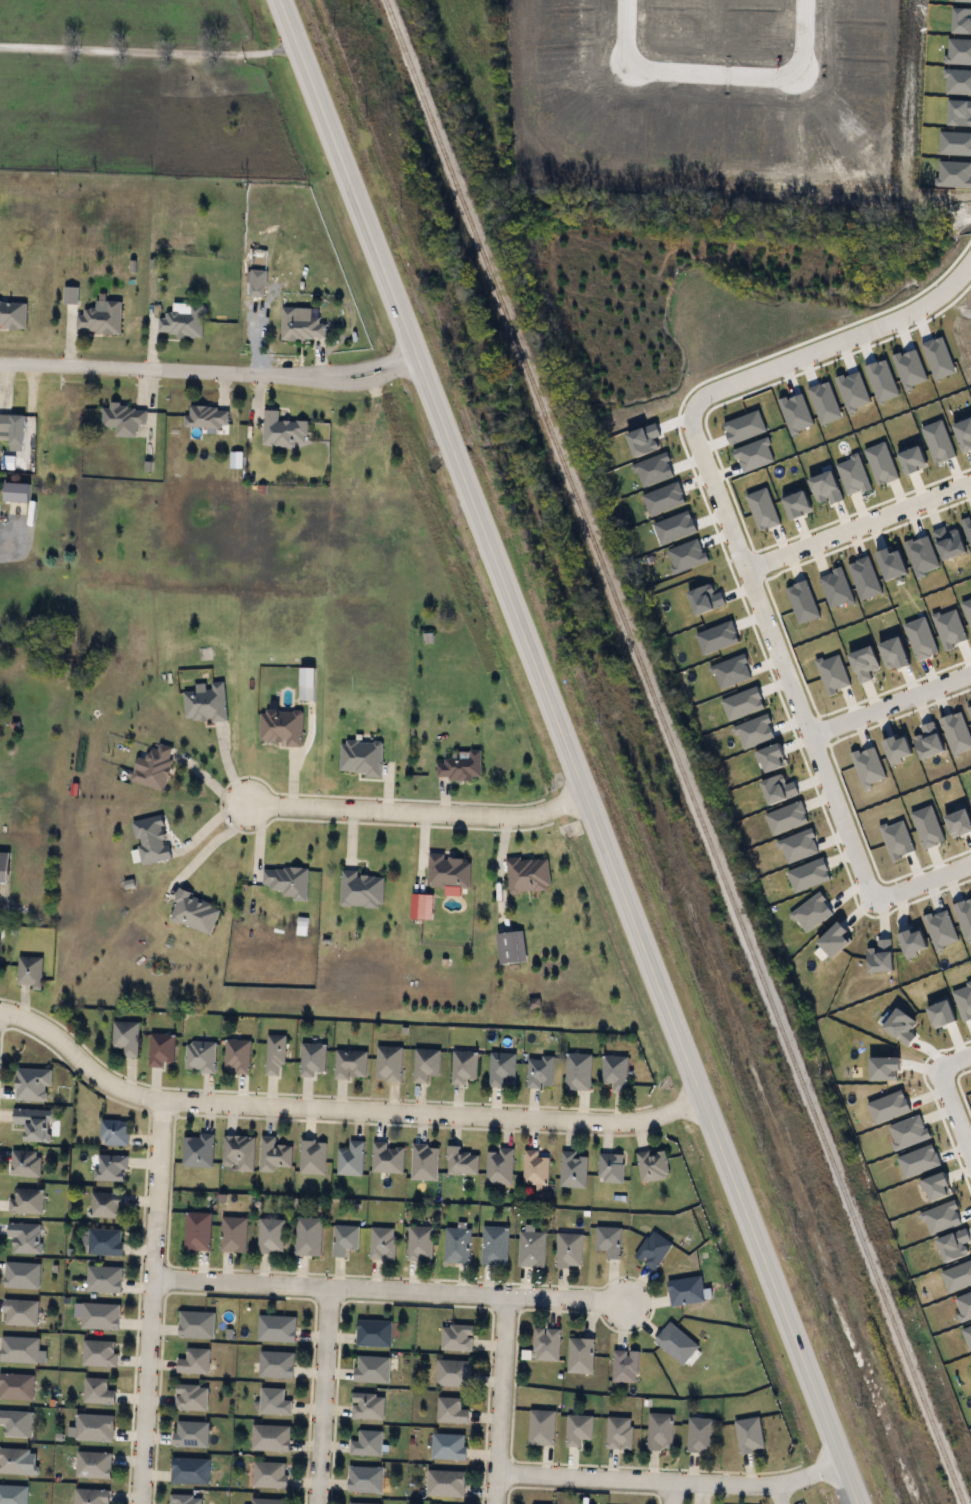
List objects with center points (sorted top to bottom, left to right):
road: (625, 34)
road: (803, 41)
road: (149, 50)
road: (714, 75)
building: (13, 313)
building: (100, 317)
building: (181, 319)
building: (301, 323)
road: (833, 339)
road: (208, 372)
building: (206, 416)
building: (124, 419)
building: (6, 422)
building: (283, 429)
building: (362, 437)
road: (858, 521)
road: (12, 539)
road: (779, 652)
road: (890, 696)
building: (205, 701)
building: (281, 726)
railway: (672, 752)
road: (566, 753)
road: (297, 756)
building: (361, 757)
building: (460, 765)
building: (154, 766)
road: (417, 812)
building: (151, 839)
road: (215, 842)
building: (4, 869)
building: (448, 871)
road: (496, 871)
building: (528, 874)
road: (925, 876)
building: (287, 881)
building: (360, 889)
building: (194, 912)
building: (30, 971)
building: (126, 1036)
building: (162, 1049)
building: (275, 1054)
building: (238, 1055)
building: (200, 1056)
road: (955, 1056)
building: (312, 1058)
building: (389, 1063)
building: (425, 1063)
building: (350, 1064)
building: (463, 1066)
building: (501, 1067)
building: (540, 1071)
building: (578, 1071)
building: (615, 1071)
building: (32, 1084)
road: (955, 1107)
road: (338, 1110)
building: (36, 1123)
building: (114, 1131)
building: (197, 1150)
building: (239, 1151)
building: (274, 1154)
building: (312, 1156)
building: (386, 1157)
building: (350, 1158)
building: (461, 1161)
building: (424, 1162)
building: (25, 1163)
building: (653, 1165)
building: (499, 1166)
building: (111, 1167)
building: (534, 1167)
building: (611, 1167)
building: (573, 1169)
building: (26, 1201)
building: (107, 1203)
building: (198, 1231)
building: (233, 1234)
building: (271, 1236)
building: (308, 1236)
building: (25, 1237)
building: (344, 1240)
building: (609, 1241)
building: (105, 1242)
building: (382, 1243)
building: (419, 1243)
building: (457, 1244)
building: (494, 1245)
building: (531, 1246)
building: (569, 1247)
building: (653, 1250)
building: (21, 1275)
building: (103, 1279)
building: (687, 1291)
road: (388, 1292)
road: (149, 1303)
building: (20, 1312)
building: (100, 1316)
building: (197, 1325)
building: (277, 1328)
building: (373, 1333)
building: (457, 1338)
building: (676, 1343)
building: (546, 1344)
building: (19, 1349)
building: (99, 1353)
building: (581, 1356)
building: (194, 1362)
building: (276, 1364)
building: (625, 1366)
building: (372, 1369)
building: (453, 1373)
building: (16, 1386)
building: (97, 1391)
building: (191, 1397)
road: (324, 1397)
road: (496, 1400)
building: (274, 1402)
building: (367, 1406)
building: (451, 1411)
building: (16, 1423)
building: (94, 1427)
building: (541, 1427)
building: (578, 1429)
building: (660, 1432)
building: (619, 1433)
building: (191, 1434)
building: (700, 1435)
building: (749, 1435)
building: (270, 1438)
building: (367, 1443)
building: (449, 1446)
building: (18, 1461)
building: (93, 1465)
building: (190, 1471)
building: (267, 1474)
building: (365, 1479)
building: (445, 1483)
road: (670, 1483)
building: (13, 1494)
road: (672, 1494)
road: (701, 1494)
road: (781, 1494)
building: (91, 1497)
building: (185, 1499)
building: (268, 1501)
building: (364, 1503)

